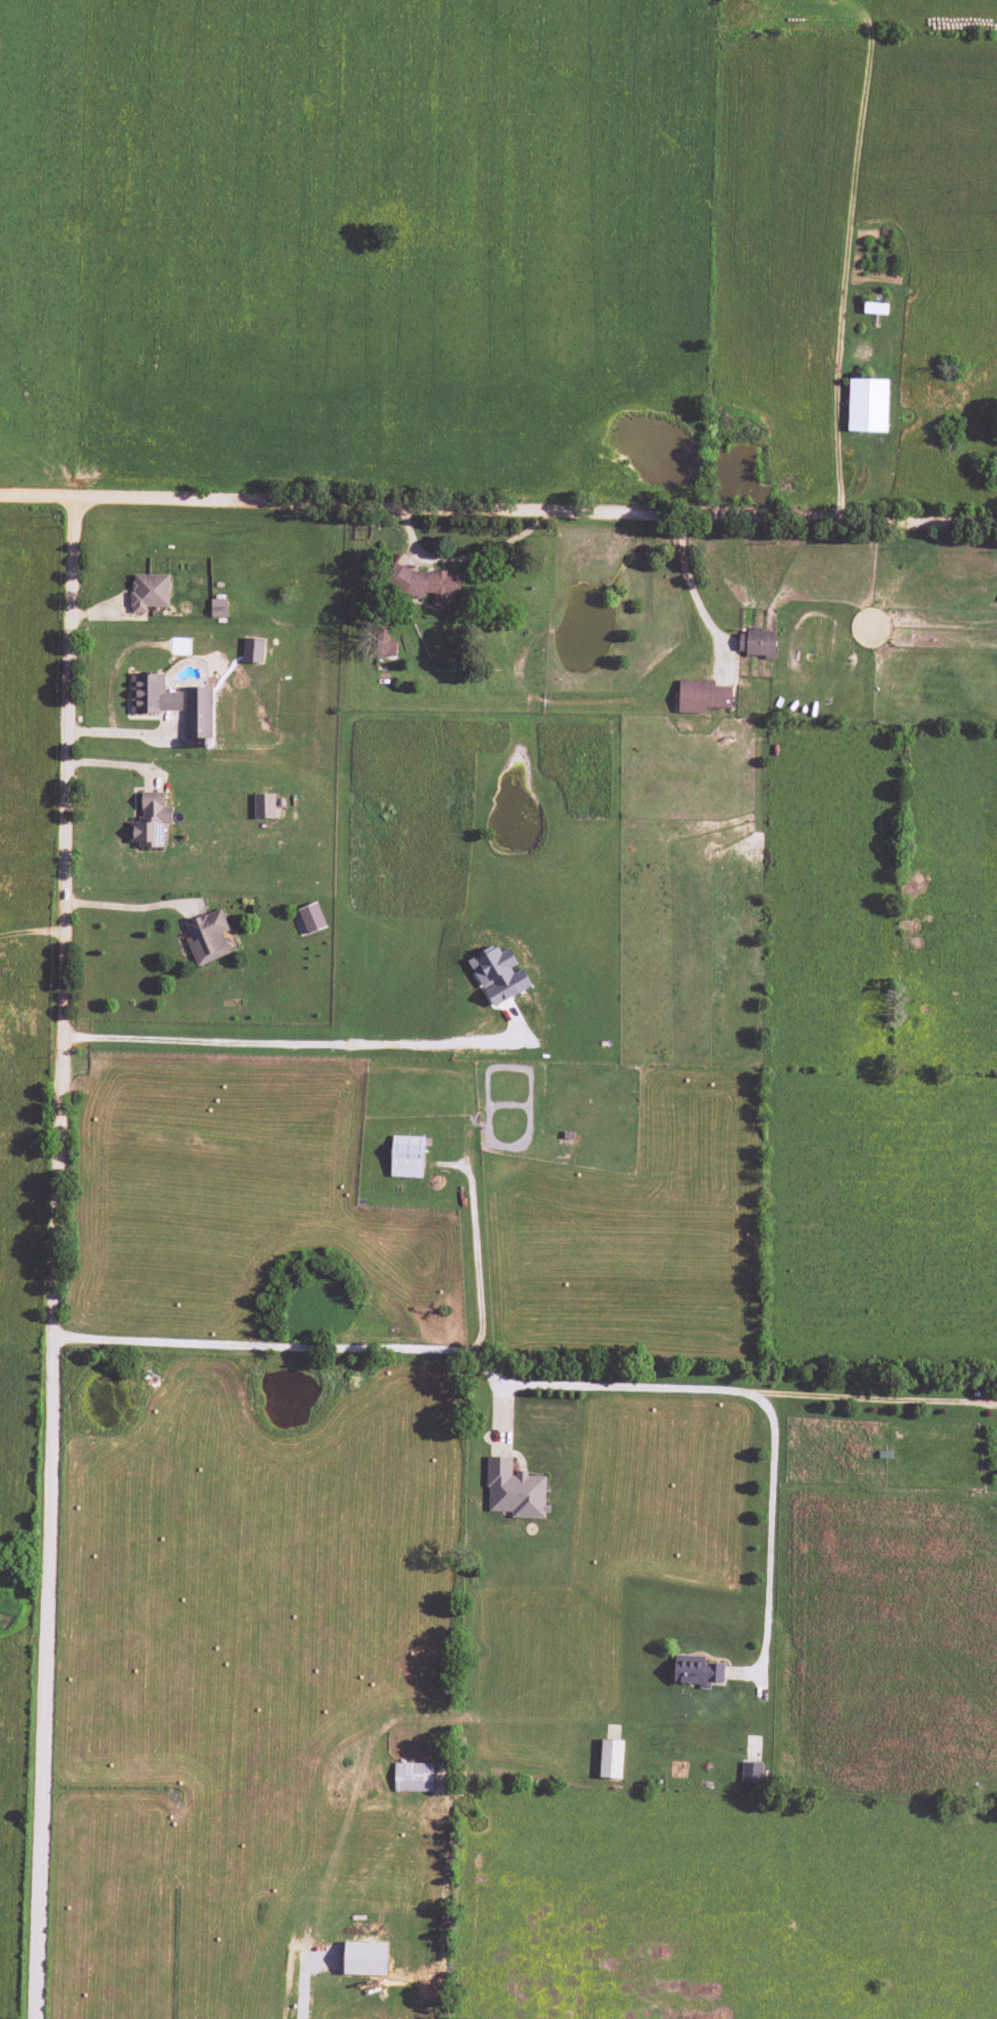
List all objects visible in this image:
building: (867, 405)
road: (38, 495)
road: (536, 512)
building: (425, 583)
building: (149, 591)
building: (218, 611)
building: (756, 643)
building: (252, 650)
building: (152, 694)
building: (702, 696)
building: (198, 715)
building: (263, 806)
building: (150, 821)
road: (65, 917)
building: (311, 918)
building: (207, 937)
building: (498, 974)
road: (298, 1044)
building: (406, 1156)
road: (521, 1384)
building: (514, 1490)
road: (769, 1533)
building: (696, 1671)
road: (40, 1678)
building: (611, 1759)
building: (751, 1772)
building: (413, 1777)

